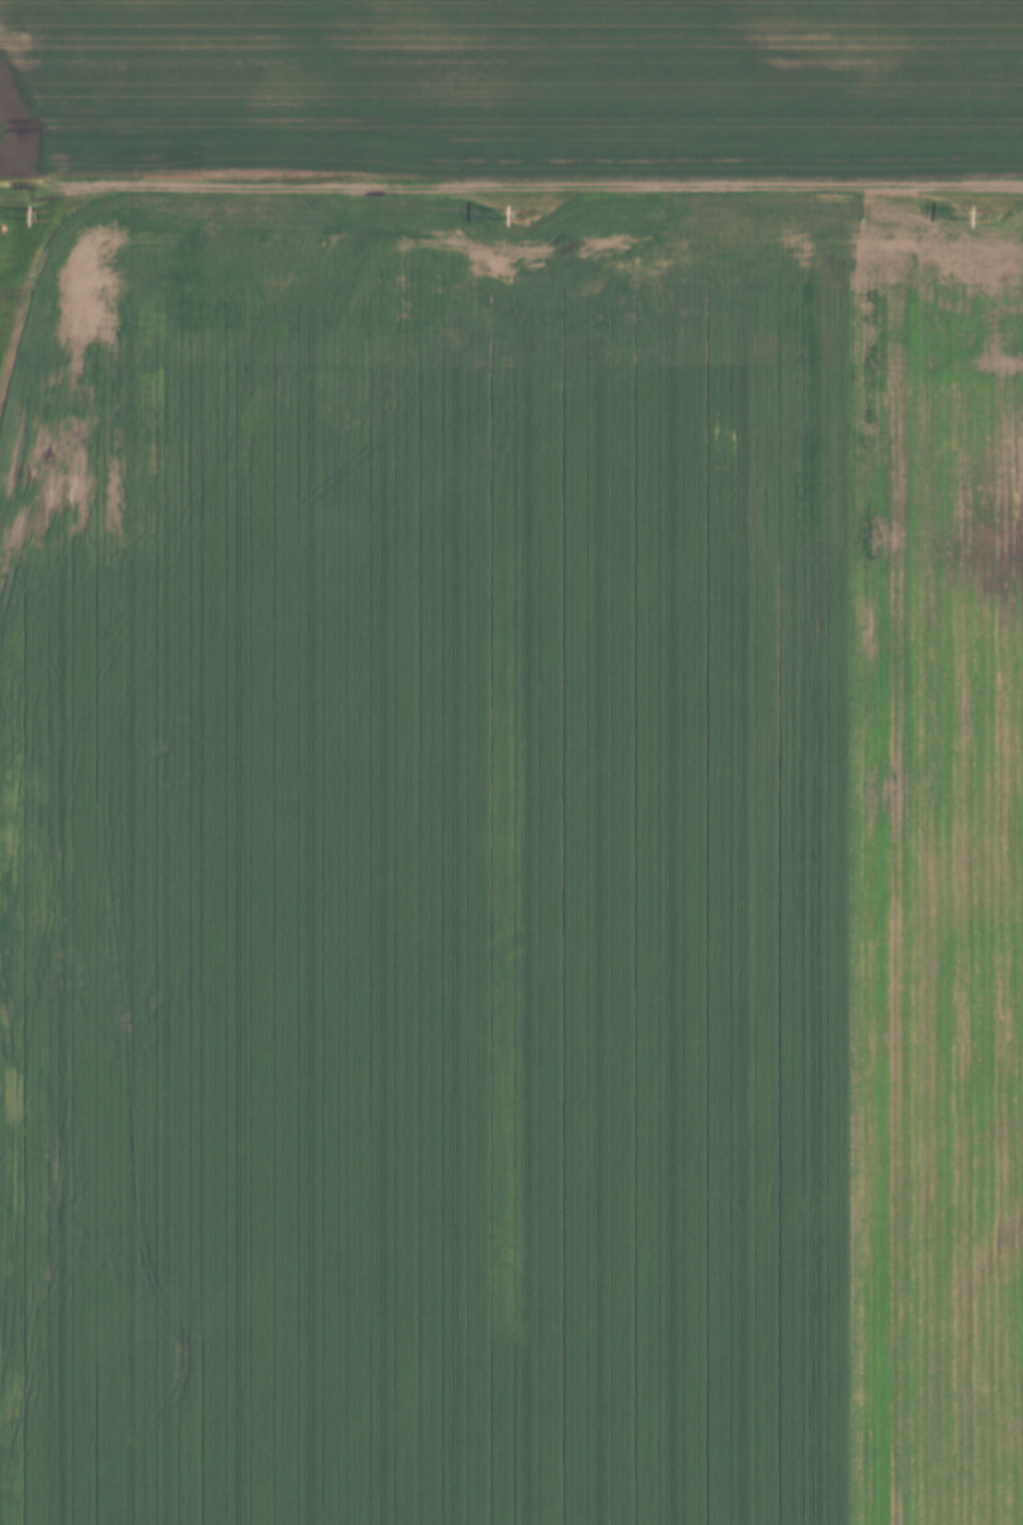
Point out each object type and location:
road: (511, 170)

